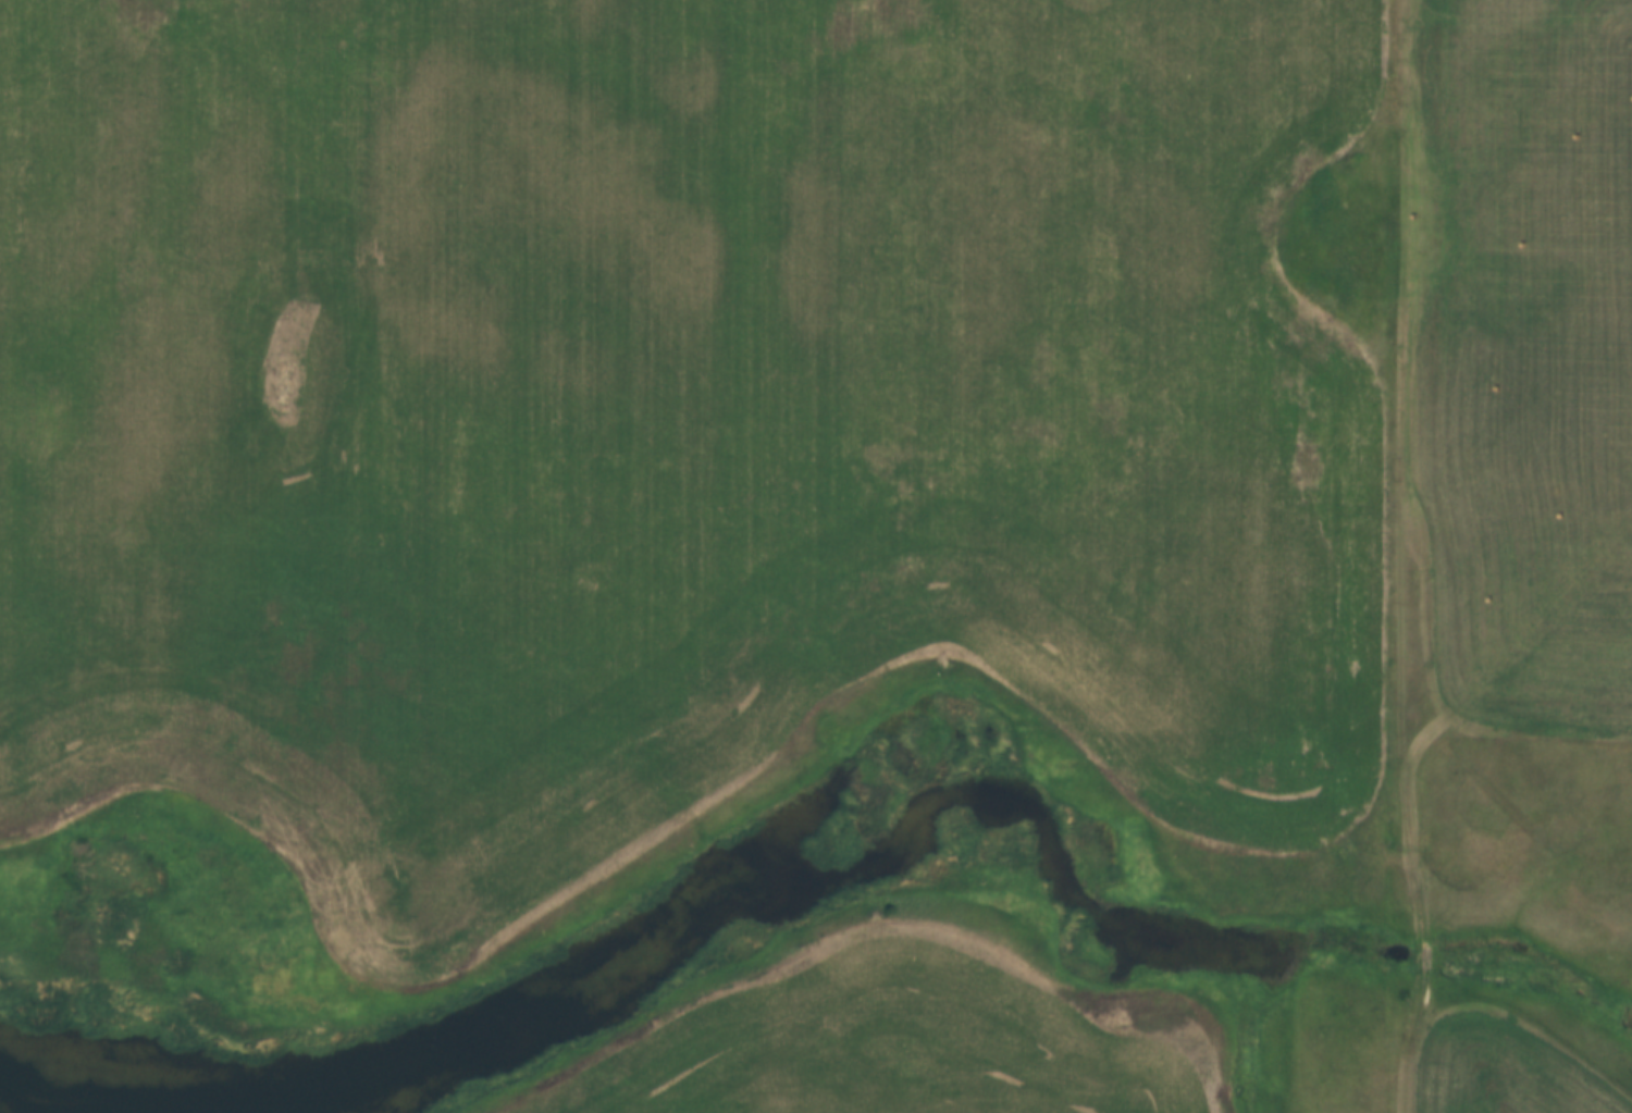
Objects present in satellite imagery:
road: (1400, 558)

